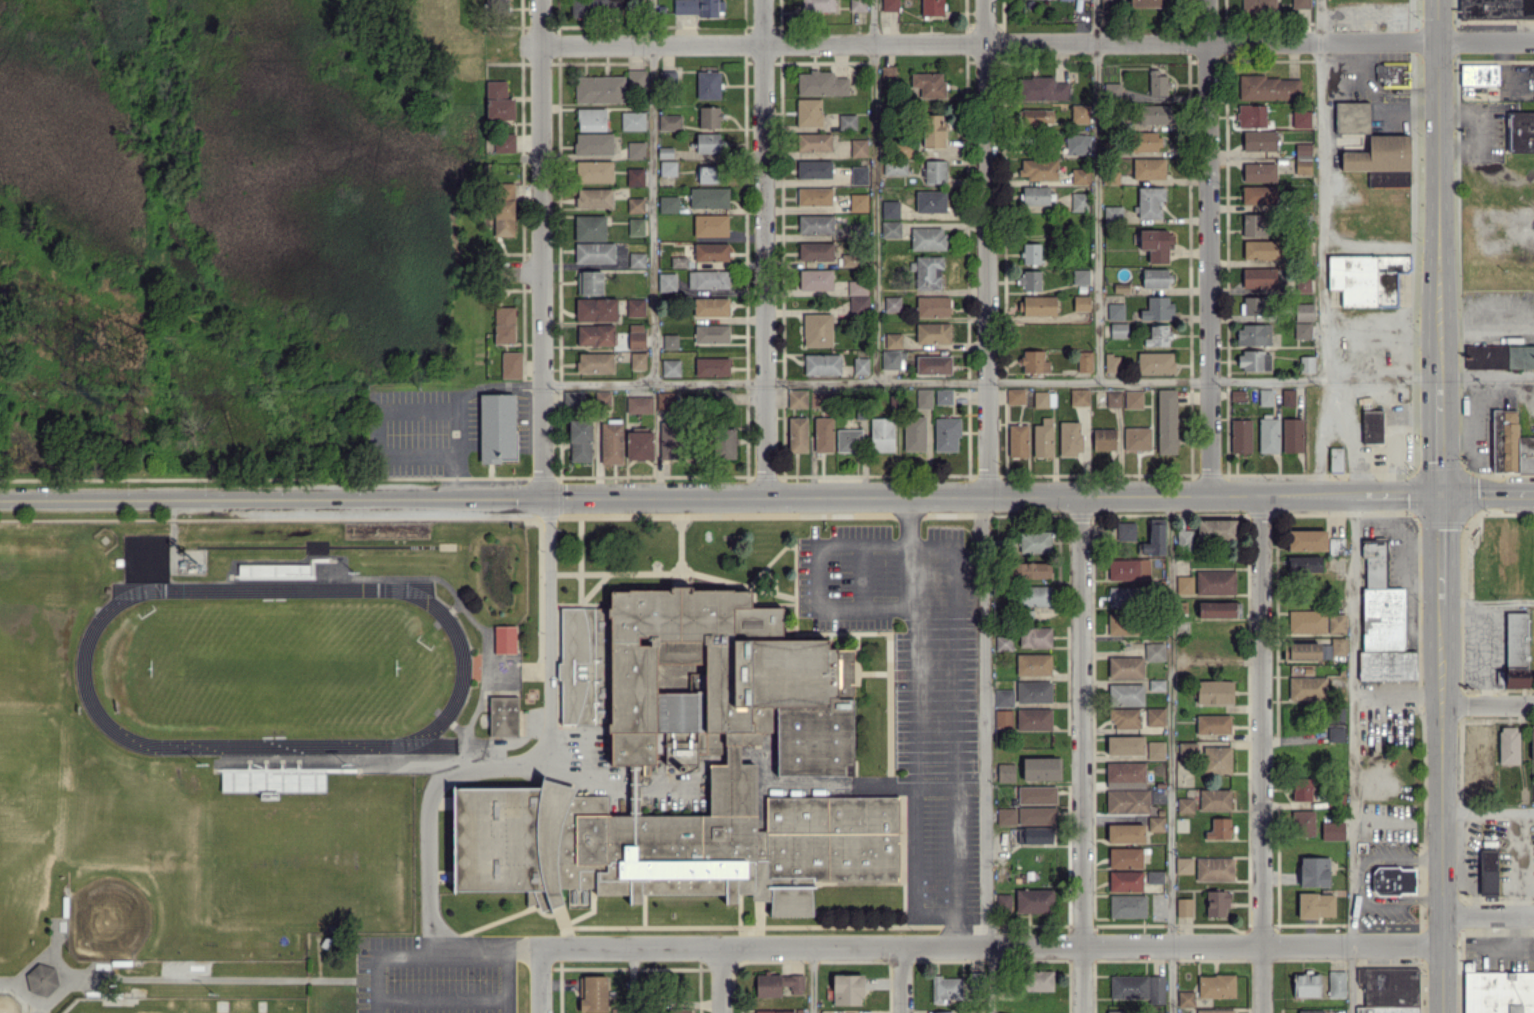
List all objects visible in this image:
building: (494, 1)
building: (1148, 3)
building: (817, 5)
building: (857, 5)
building: (889, 5)
building: (1258, 6)
building: (588, 7)
building: (698, 7)
building: (932, 7)
building: (1495, 9)
building: (1301, 11)
road: (1036, 42)
road: (1505, 63)
road: (1365, 64)
building: (890, 73)
building: (1392, 74)
building: (1479, 74)
building: (636, 78)
building: (820, 83)
building: (1157, 83)
building: (708, 84)
building: (928, 84)
building: (1269, 88)
building: (599, 89)
building: (1043, 89)
building: (1112, 89)
building: (498, 101)
road: (1480, 109)
building: (808, 112)
building: (1079, 113)
building: (1154, 114)
building: (1251, 115)
building: (1036, 116)
building: (708, 117)
building: (1352, 117)
building: (1301, 118)
building: (591, 119)
building: (632, 120)
building: (847, 121)
building: (669, 122)
building: (932, 130)
building: (1520, 131)
building: (1259, 140)
building: (813, 141)
building: (1144, 141)
building: (503, 142)
building: (593, 143)
building: (707, 143)
building: (1078, 143)
building: (858, 147)
building: (636, 149)
building: (1302, 158)
building: (1382, 160)
building: (667, 167)
building: (894, 168)
building: (1038, 168)
building: (1148, 168)
building: (813, 169)
building: (593, 171)
building: (934, 171)
building: (1259, 172)
building: (708, 174)
building: (858, 175)
building: (1080, 175)
building: (634, 176)
road: (1096, 190)
road: (1321, 190)
road: (1438, 190)
road: (651, 191)
road: (874, 191)
building: (1034, 194)
building: (1258, 194)
building: (814, 196)
building: (708, 197)
building: (594, 198)
building: (930, 201)
building: (1078, 201)
building: (1149, 201)
building: (858, 202)
building: (668, 204)
building: (635, 205)
building: (503, 209)
building: (889, 209)
building: (1113, 214)
building: (815, 224)
building: (1254, 224)
building: (710, 225)
building: (635, 226)
building: (589, 227)
building: (890, 229)
building: (470, 230)
building: (927, 238)
building: (1156, 244)
road: (1380, 245)
road: (1208, 248)
road: (763, 249)
road: (987, 249)
building: (1260, 249)
road: (540, 250)
building: (710, 251)
building: (815, 251)
building: (594, 252)
building: (1031, 253)
building: (636, 259)
building: (848, 259)
building: (678, 261)
building: (926, 272)
building: (1080, 276)
building: (1155, 277)
building: (1258, 277)
building: (1366, 278)
building: (707, 279)
building: (815, 279)
building: (1030, 280)
building: (589, 282)
building: (666, 282)
building: (1303, 282)
building: (857, 287)
building: (1081, 303)
building: (891, 304)
building: (858, 305)
building: (1037, 305)
building: (1254, 305)
road: (1501, 305)
building: (711, 306)
building: (933, 306)
building: (635, 307)
building: (1157, 308)
building: (596, 309)
building: (1115, 311)
building: (1303, 311)
building: (504, 324)
road: (1486, 325)
building: (817, 329)
building: (1118, 330)
building: (1302, 330)
building: (711, 333)
building: (932, 333)
building: (1253, 334)
building: (595, 335)
building: (1157, 335)
building: (635, 336)
road: (1374, 338)
building: (893, 340)
building: (669, 341)
building: (1499, 356)
building: (892, 359)
building: (637, 360)
building: (1253, 360)
building: (1034, 361)
building: (1084, 361)
building: (594, 362)
building: (1155, 362)
building: (1111, 363)
building: (1306, 363)
building: (511, 364)
building: (822, 364)
building: (933, 364)
building: (860, 365)
building: (711, 366)
building: (670, 367)
road: (1487, 379)
road: (491, 381)
road: (990, 381)
building: (1236, 394)
building: (1015, 395)
building: (943, 396)
building: (1079, 396)
building: (1265, 396)
building: (1287, 397)
building: (586, 398)
building: (797, 398)
building: (923, 398)
building: (1043, 398)
building: (1113, 398)
building: (1132, 398)
building: (819, 399)
building: (667, 400)
building: (639, 404)
road: (1474, 410)
road: (419, 411)
building: (1166, 421)
road: (1319, 421)
building: (497, 426)
building: (1372, 426)
parking lot: (427, 431)
road: (458, 432)
road: (1394, 432)
building: (914, 433)
building: (797, 434)
building: (823, 434)
building: (881, 434)
building: (946, 434)
building: (1292, 434)
building: (1240, 435)
building: (1268, 435)
building: (1069, 437)
building: (1042, 438)
building: (1136, 438)
road: (1441, 438)
building: (1104, 439)
building: (579, 440)
building: (670, 440)
building: (848, 440)
building: (1017, 440)
building: (611, 442)
building: (726, 443)
building: (1510, 443)
building: (639, 445)
road: (419, 453)
building: (1336, 459)
road: (459, 476)
road: (1487, 495)
traffic signals: (1441, 496)
road: (991, 497)
road: (270, 500)
road: (909, 522)
building: (1215, 529)
building: (1125, 530)
building: (1154, 537)
building: (1184, 539)
building: (1306, 540)
building: (1035, 541)
road: (680, 544)
building: (1335, 545)
road: (1442, 550)
road: (579, 563)
building: (1304, 566)
building: (1128, 569)
road: (674, 570)
building: (1031, 570)
road: (860, 577)
road: (956, 582)
building: (1215, 582)
building: (1184, 584)
building: (1034, 595)
building: (1122, 596)
road: (1488, 603)
building: (1218, 609)
road: (546, 617)
building: (1382, 620)
building: (1306, 621)
building: (1336, 623)
building: (1122, 624)
building: (504, 636)
building: (1034, 637)
building: (1003, 642)
building: (1338, 646)
building: (1516, 649)
building: (1154, 651)
building: (1301, 651)
road: (1482, 654)
building: (1033, 664)
park: (272, 666)
building: (1125, 666)
track: (462, 667)
park: (17, 672)
building: (1156, 684)
parking lot: (915, 687)
building: (1307, 687)
road: (1396, 689)
building: (1033, 691)
building: (1214, 692)
building: (1126, 694)
building: (1003, 697)
road: (1488, 704)
building: (502, 712)
building: (1154, 716)
building: (1335, 716)
building: (1124, 718)
building: (1003, 719)
building: (1033, 719)
building: (1213, 724)
building: (1335, 733)
building: (1476, 737)
building: (1508, 743)
building: (1531, 744)
building: (1124, 745)
building: (674, 748)
road: (914, 749)
building: (1155, 750)
building: (1187, 750)
building: (1338, 752)
road: (1080, 754)
road: (1259, 754)
road: (1350, 754)
road: (985, 755)
road: (1170, 755)
building: (1217, 759)
building: (1040, 768)
building: (1005, 772)
building: (1125, 774)
road: (814, 784)
road: (935, 784)
building: (1302, 789)
building: (1036, 794)
building: (1214, 799)
road: (428, 801)
building: (1127, 801)
building: (1184, 805)
road: (1443, 808)
road: (1488, 808)
building: (1036, 815)
building: (1006, 816)
road: (1379, 819)
building: (1302, 822)
building: (1155, 823)
building: (1219, 828)
building: (1332, 830)
building: (1125, 833)
building: (1034, 835)
road: (1514, 849)
building: (1125, 857)
road: (1355, 857)
road: (1401, 857)
building: (1183, 865)
building: (1214, 868)
building: (1313, 871)
building: (1488, 872)
building: (1154, 876)
building: (1125, 880)
building: (1393, 880)
road: (1358, 881)
park: (143, 883)
building: (578, 897)
building: (1034, 900)
building: (1002, 902)
building: (1216, 903)
building: (1315, 904)
building: (1127, 905)
road: (1354, 905)
road: (1401, 905)
park: (10, 907)
building: (1183, 907)
road: (1488, 917)
road: (957, 929)
road: (990, 946)
road: (1514, 946)
road: (521, 948)
road: (412, 955)
parking lot: (436, 974)
building: (41, 979)
road: (504, 980)
road: (539, 980)
road: (630, 980)
road: (721, 980)
road: (811, 980)
road: (900, 980)
building: (1038, 980)
building: (777, 983)
building: (1336, 983)
building: (1306, 984)
building: (1215, 985)
building: (1138, 987)
building: (946, 988)
building: (847, 989)
building: (1389, 990)
building: (1497, 991)
building: (592, 993)
building: (1185, 998)
road: (441, 999)
park: (9, 1003)
park: (186, 1005)
building: (683, 1010)
building: (1215, 1010)
building: (774, 1011)
building: (1115, 1011)
building: (1309, 1011)
building: (940, 1012)

